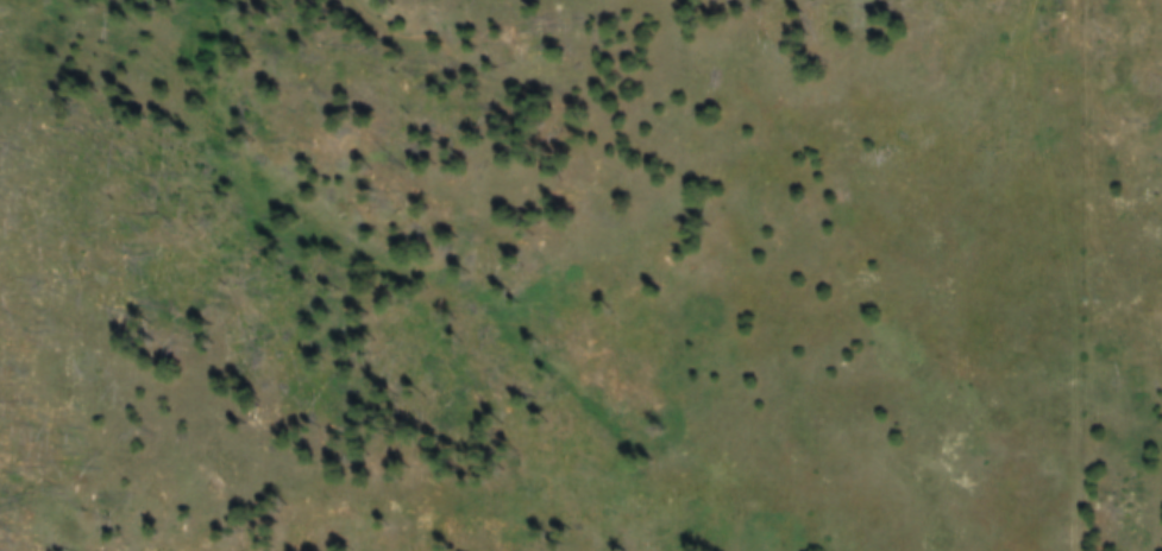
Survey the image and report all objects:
road: (1157, 330)

